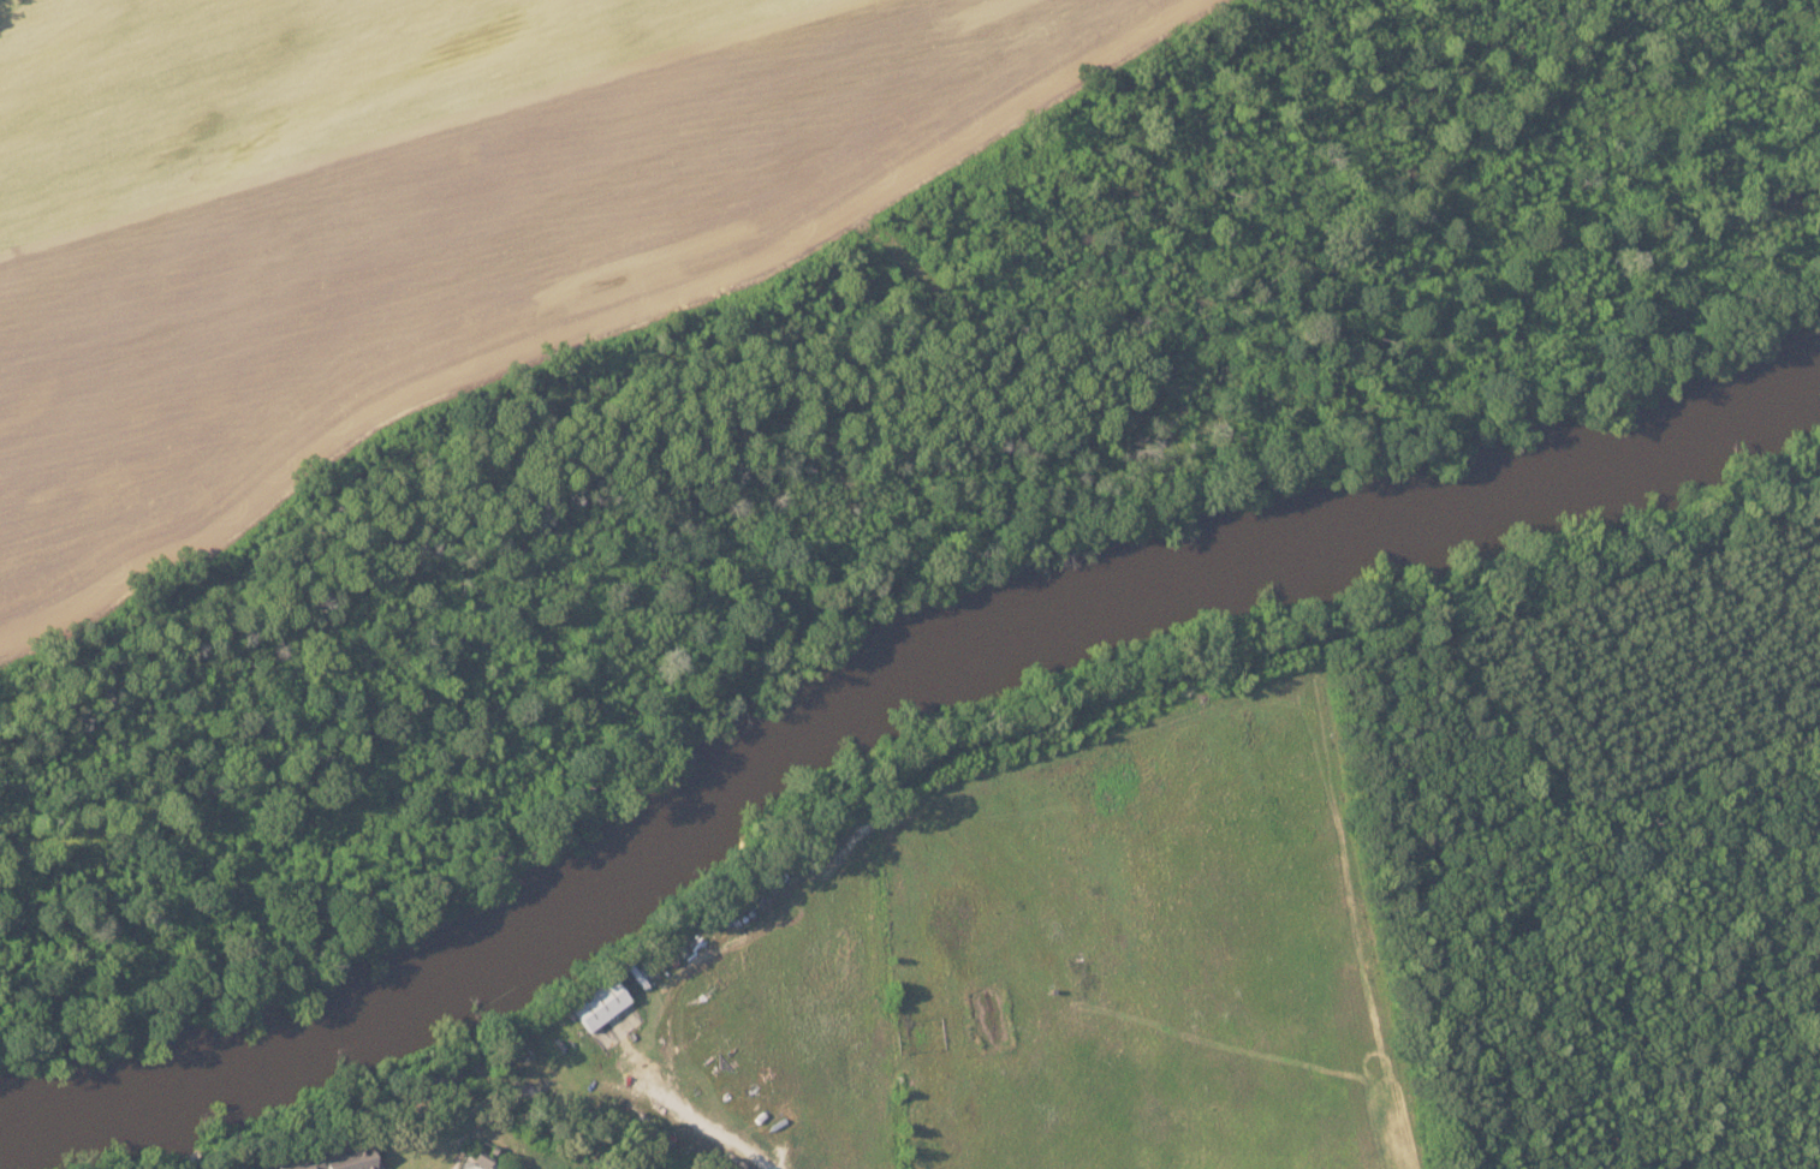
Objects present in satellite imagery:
river: (878, 674)
road: (1110, 736)
building: (599, 1003)
building: (618, 1026)
building: (340, 1159)
building: (482, 1159)

